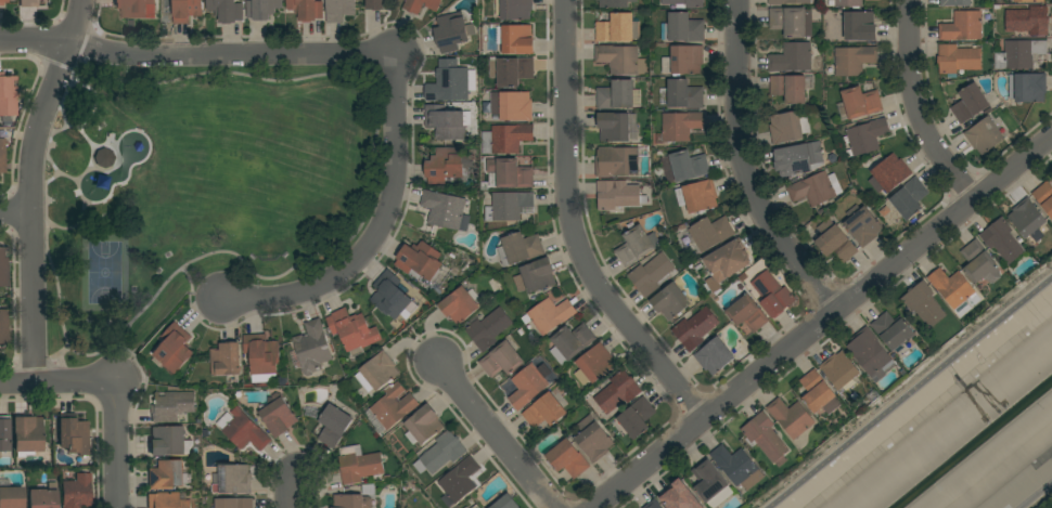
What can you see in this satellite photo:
building: (1029, 1)
building: (3, 2)
building: (790, 2)
building: (30, 3)
building: (615, 3)
building: (685, 3)
building: (848, 3)
building: (955, 3)
building: (376, 4)
building: (421, 5)
building: (134, 9)
building: (262, 9)
building: (307, 9)
building: (227, 10)
building: (339, 10)
building: (514, 10)
building: (187, 11)
building: (1028, 21)
building: (792, 22)
building: (858, 26)
building: (962, 26)
building: (684, 27)
building: (618, 28)
building: (452, 31)
building: (517, 39)
road: (196, 54)
building: (1019, 54)
building: (792, 57)
building: (619, 58)
building: (958, 58)
building: (683, 60)
building: (851, 61)
building: (511, 70)
building: (449, 82)
building: (790, 88)
building: (1027, 88)
building: (684, 94)
building: (8, 95)
building: (615, 95)
building: (860, 103)
building: (970, 103)
building: (513, 106)
road: (919, 107)
building: (447, 121)
building: (681, 126)
building: (614, 127)
building: (788, 127)
building: (867, 135)
building: (985, 135)
building: (505, 139)
building: (2, 155)
building: (799, 157)
building: (104, 158)
building: (617, 161)
building: (446, 166)
building: (689, 166)
road: (747, 169)
building: (509, 173)
building: (889, 173)
road: (33, 187)
building: (814, 188)
park: (198, 192)
building: (618, 195)
building: (697, 196)
building: (1044, 197)
building: (910, 198)
building: (508, 206)
building: (446, 210)
road: (16, 213)
building: (1028, 220)
building: (862, 224)
road: (576, 230)
building: (710, 233)
road: (376, 234)
building: (1002, 240)
building: (835, 242)
building: (637, 246)
building: (519, 248)
building: (728, 260)
building: (420, 261)
building: (979, 263)
building: (3, 268)
park: (104, 272)
building: (652, 274)
building: (535, 276)
building: (954, 291)
building: (772, 294)
building: (392, 296)
building: (670, 301)
building: (924, 303)
building: (460, 305)
building: (747, 313)
building: (551, 315)
road: (824, 323)
building: (3, 326)
building: (488, 328)
building: (695, 328)
building: (352, 330)
building: (893, 330)
building: (572, 342)
building: (312, 348)
building: (175, 349)
building: (870, 353)
building: (262, 356)
building: (714, 356)
building: (226, 360)
building: (501, 360)
building: (594, 364)
building: (839, 369)
building: (377, 373)
road: (57, 382)
building: (529, 383)
road: (909, 390)
building: (817, 391)
building: (617, 392)
building: (172, 406)
building: (393, 406)
building: (544, 411)
building: (278, 416)
building: (637, 417)
building: (791, 417)
building: (424, 424)
building: (334, 426)
building: (243, 429)
building: (4, 433)
road: (495, 434)
building: (28, 435)
building: (74, 437)
building: (766, 438)
building: (593, 439)
building: (168, 441)
road: (117, 445)
building: (440, 453)
building: (568, 458)
building: (359, 465)
building: (737, 467)
building: (167, 474)
building: (232, 479)
building: (459, 482)
building: (711, 483)
building: (77, 492)
road: (292, 492)
building: (12, 497)
building: (43, 497)
building: (679, 499)
building: (166, 500)
building: (351, 502)
building: (234, 503)
building: (506, 503)
building: (653, 505)
building: (466, 507)
building: (476, 507)

